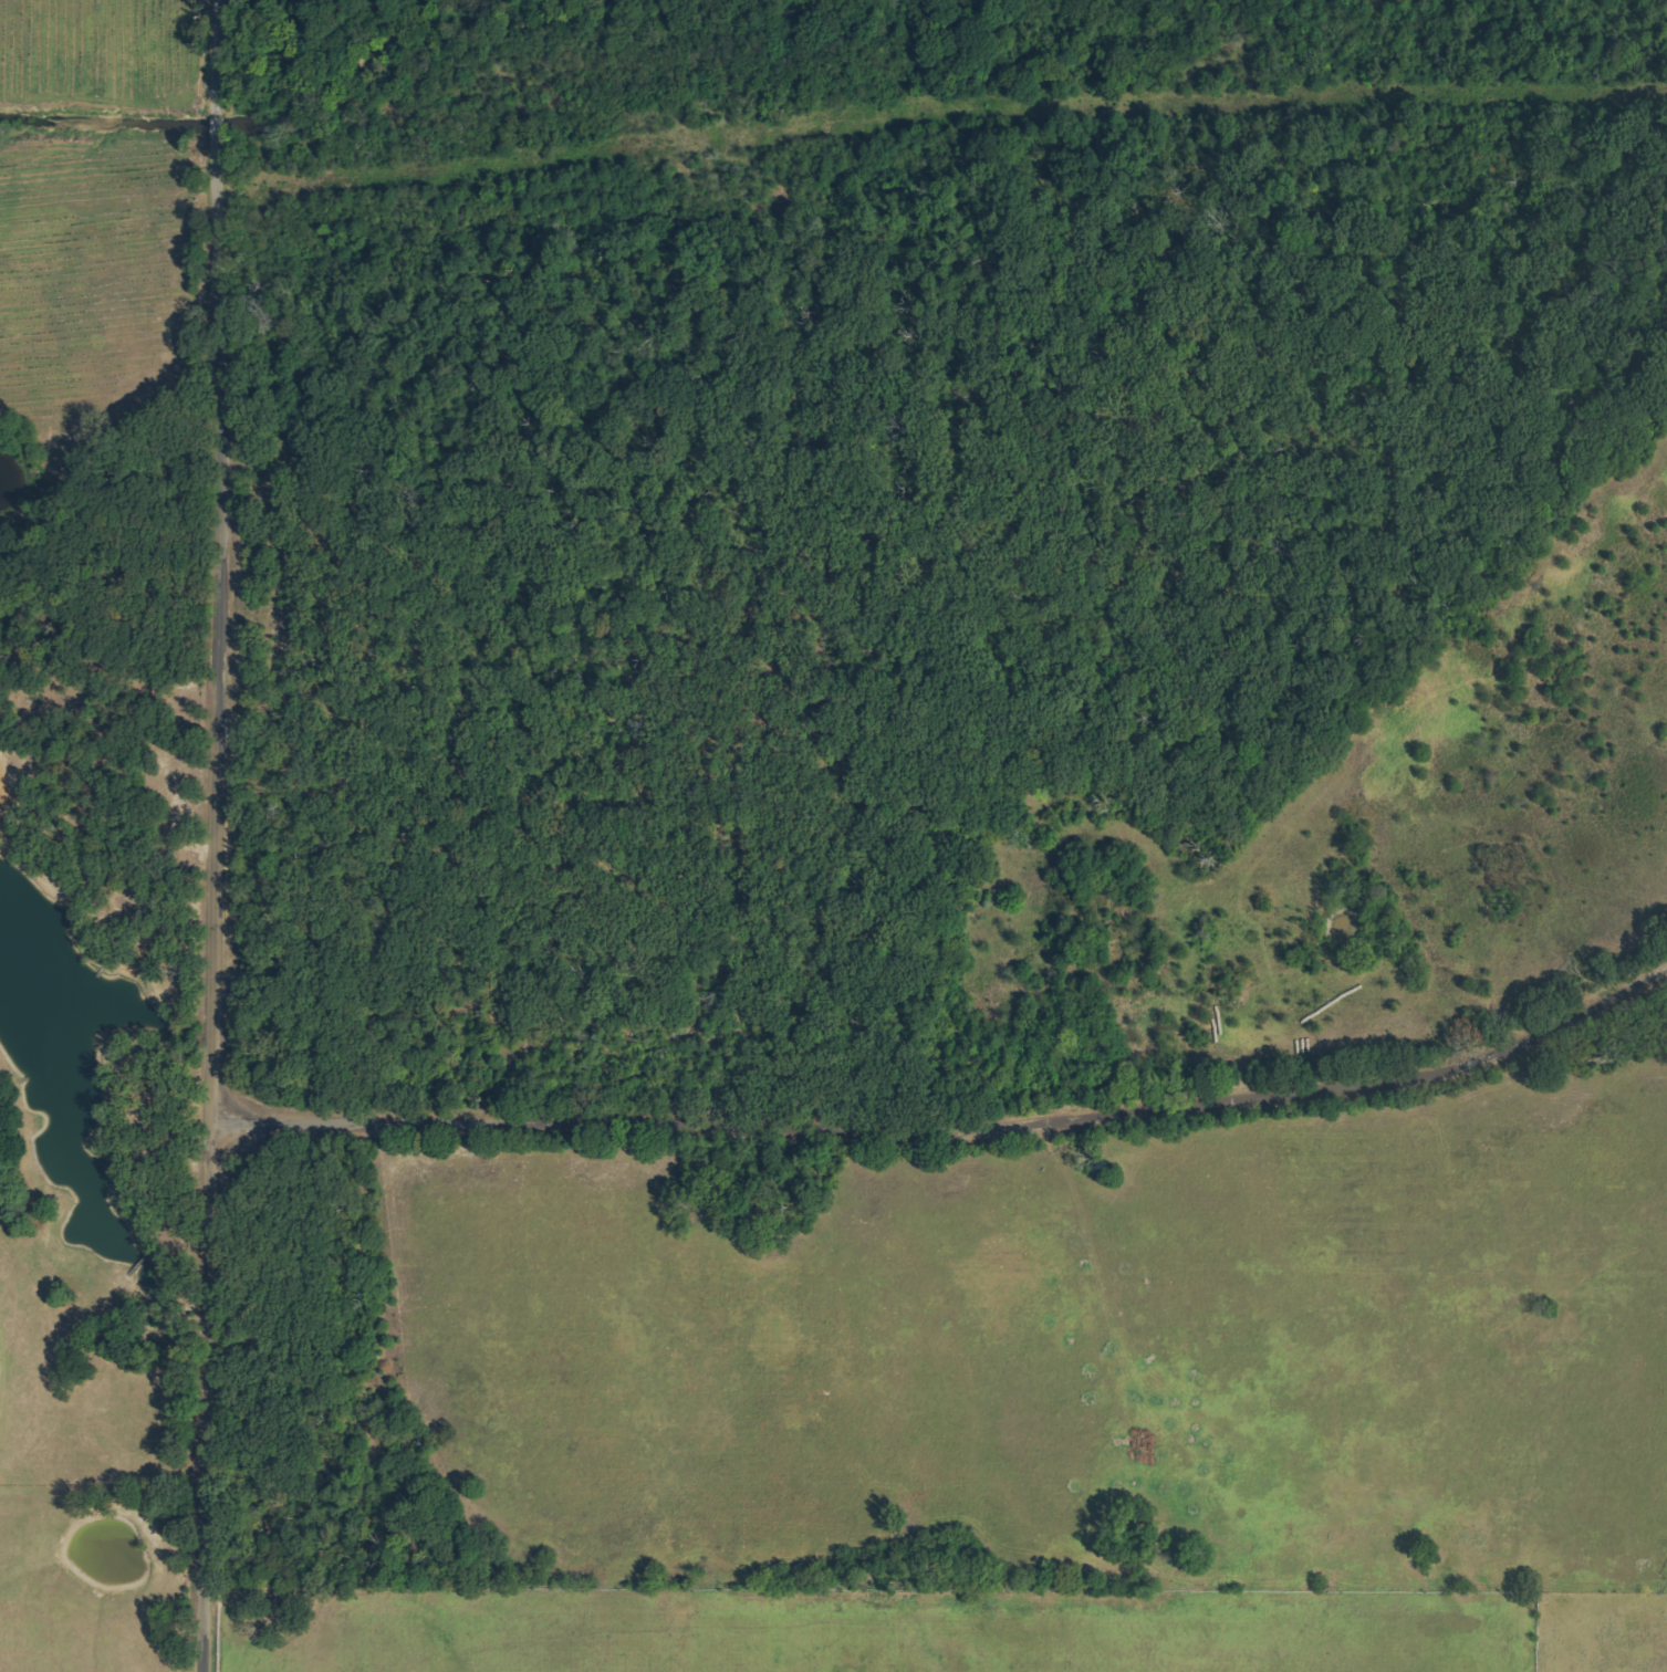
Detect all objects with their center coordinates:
road: (213, 69)
road: (213, 905)
road: (952, 1110)

